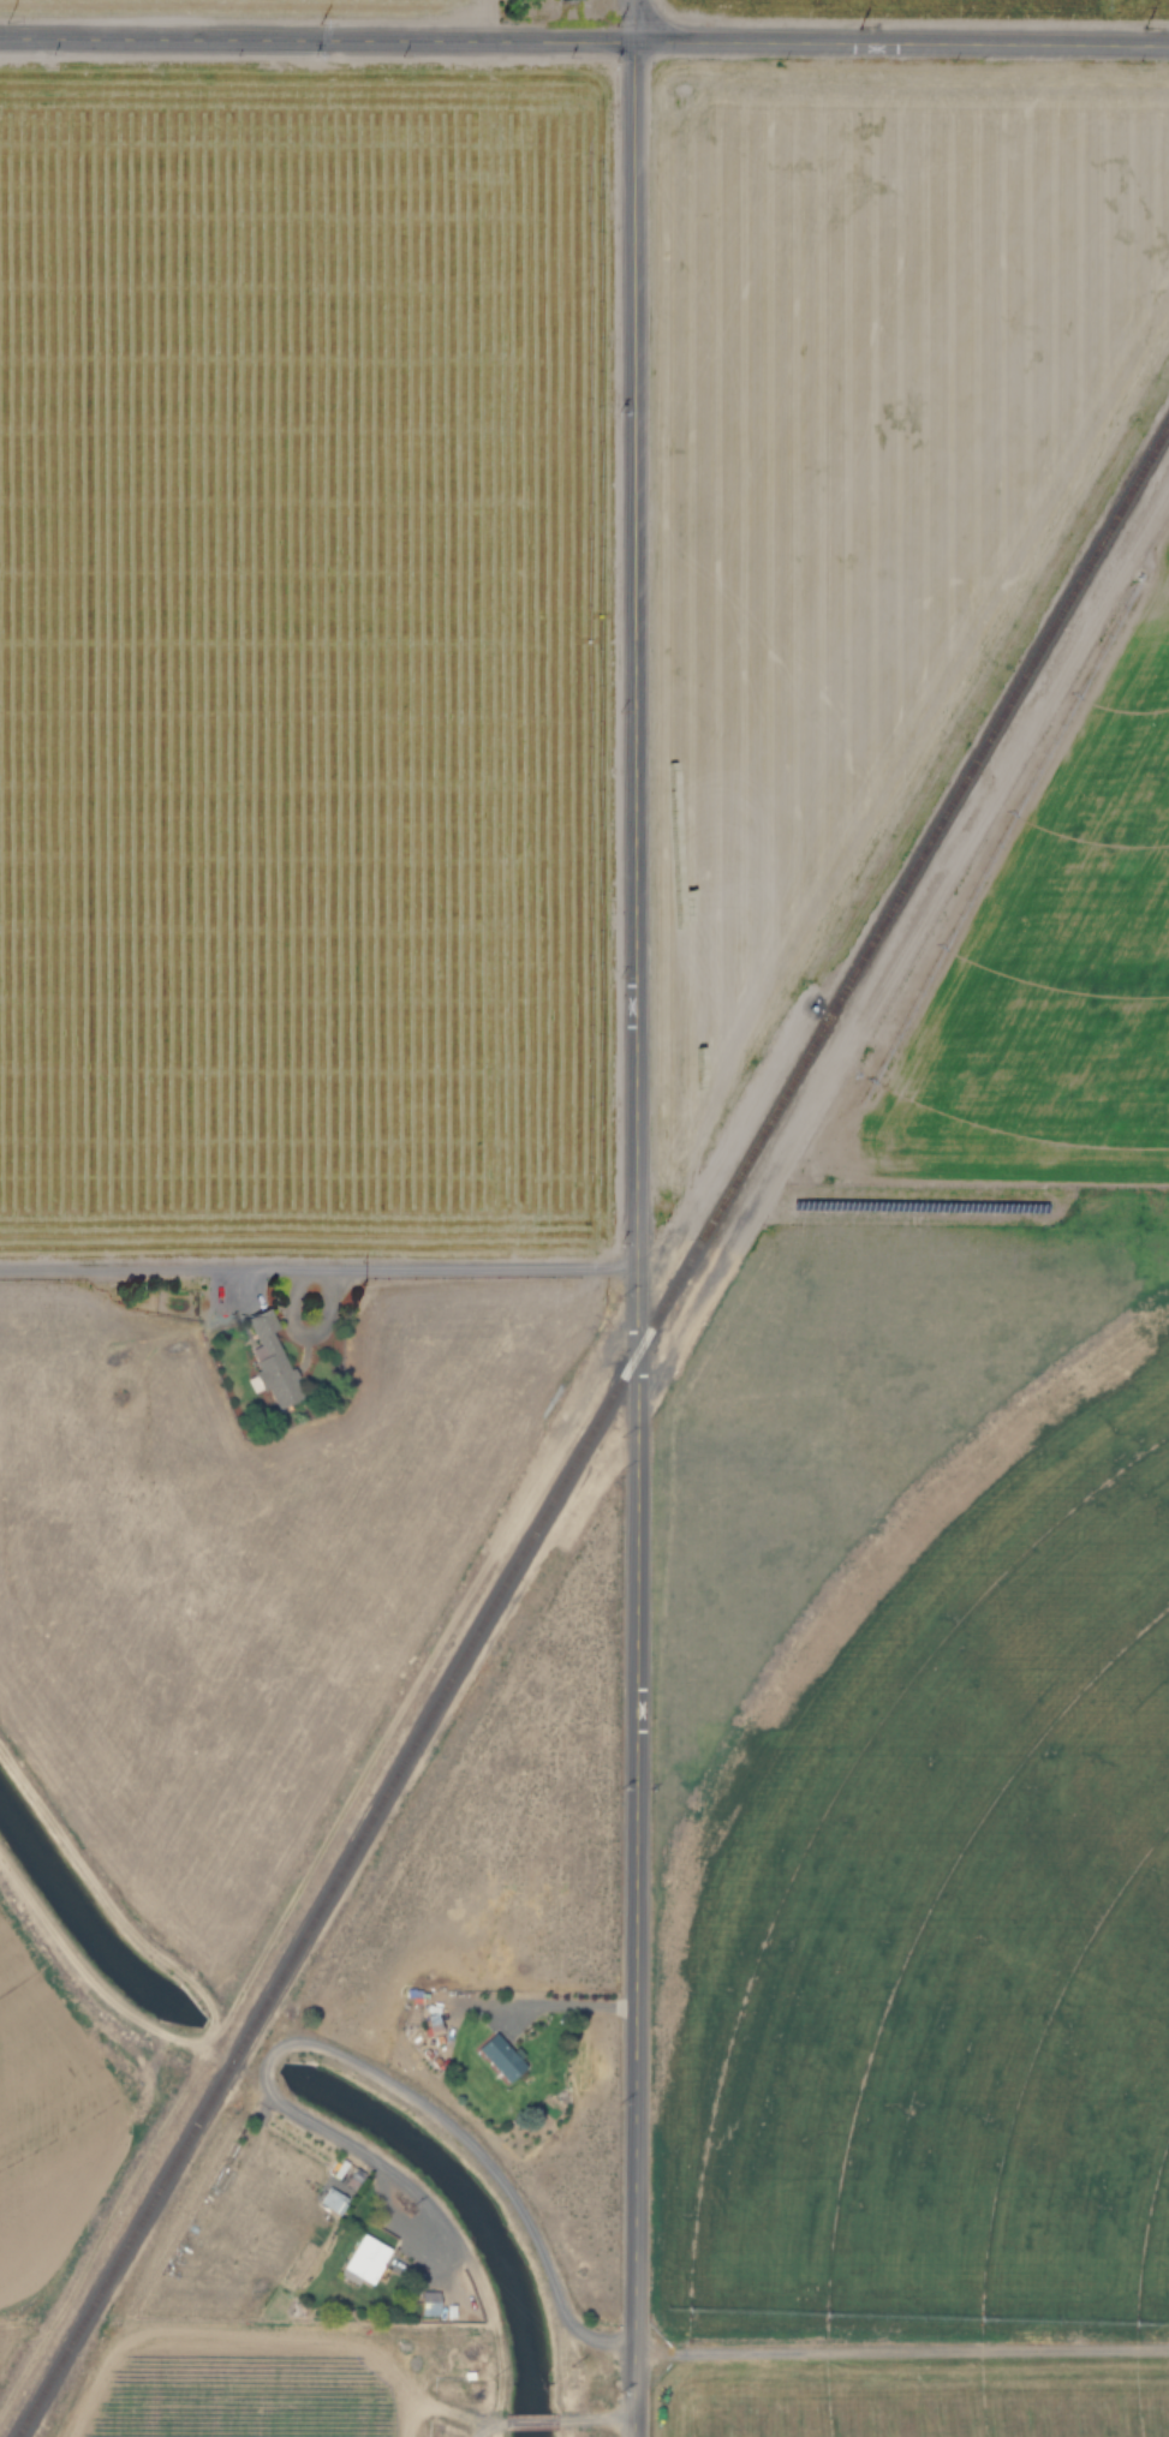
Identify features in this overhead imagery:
road: (636, 20)
road: (584, 41)
road: (637, 1240)
building: (268, 1361)
railway: (591, 1432)
road: (572, 2007)
crop: (950, 2014)
building: (496, 2055)
road: (378, 2075)
building: (362, 2257)
building: (424, 2302)
road: (901, 2352)
crop: (276, 2383)
road: (449, 2411)
road: (596, 2415)
road: (525, 2420)
road: (562, 2427)
road: (495, 2429)
road: (487, 2430)

